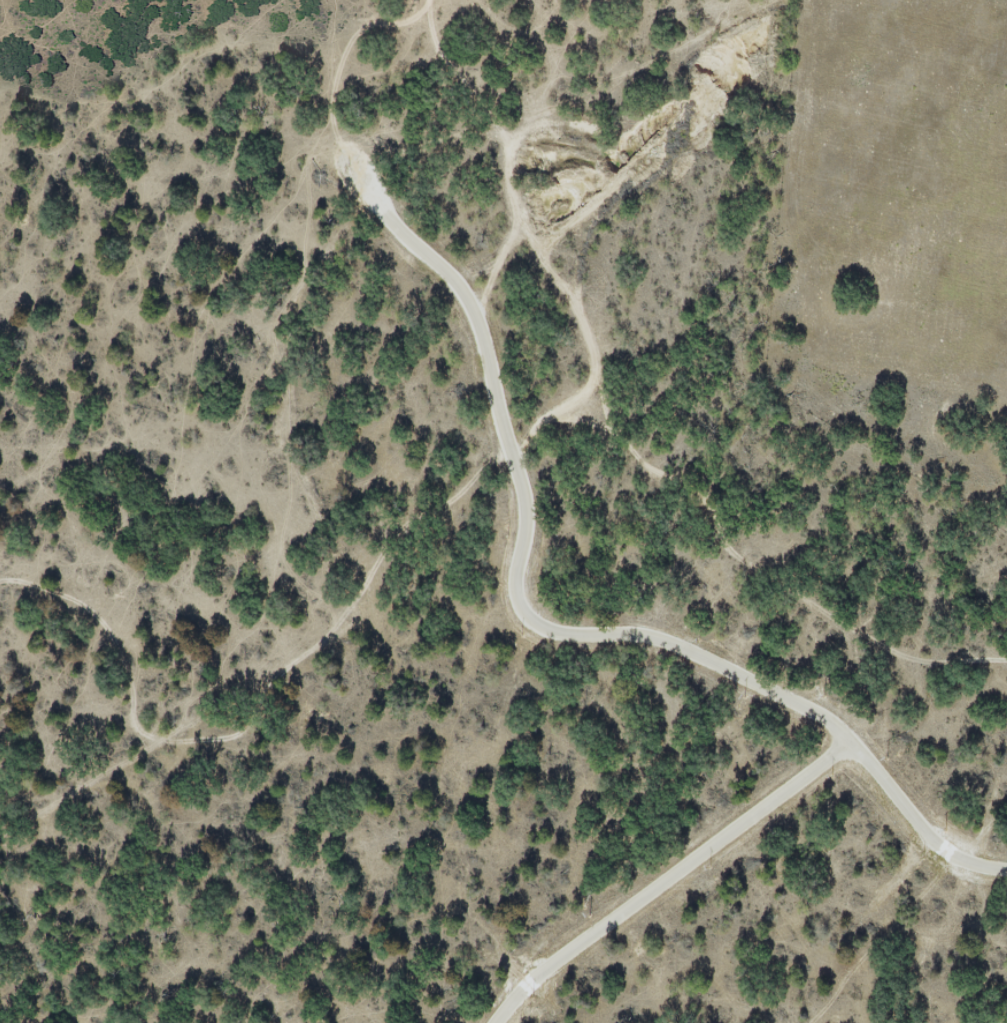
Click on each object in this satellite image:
road: (610, 432)

